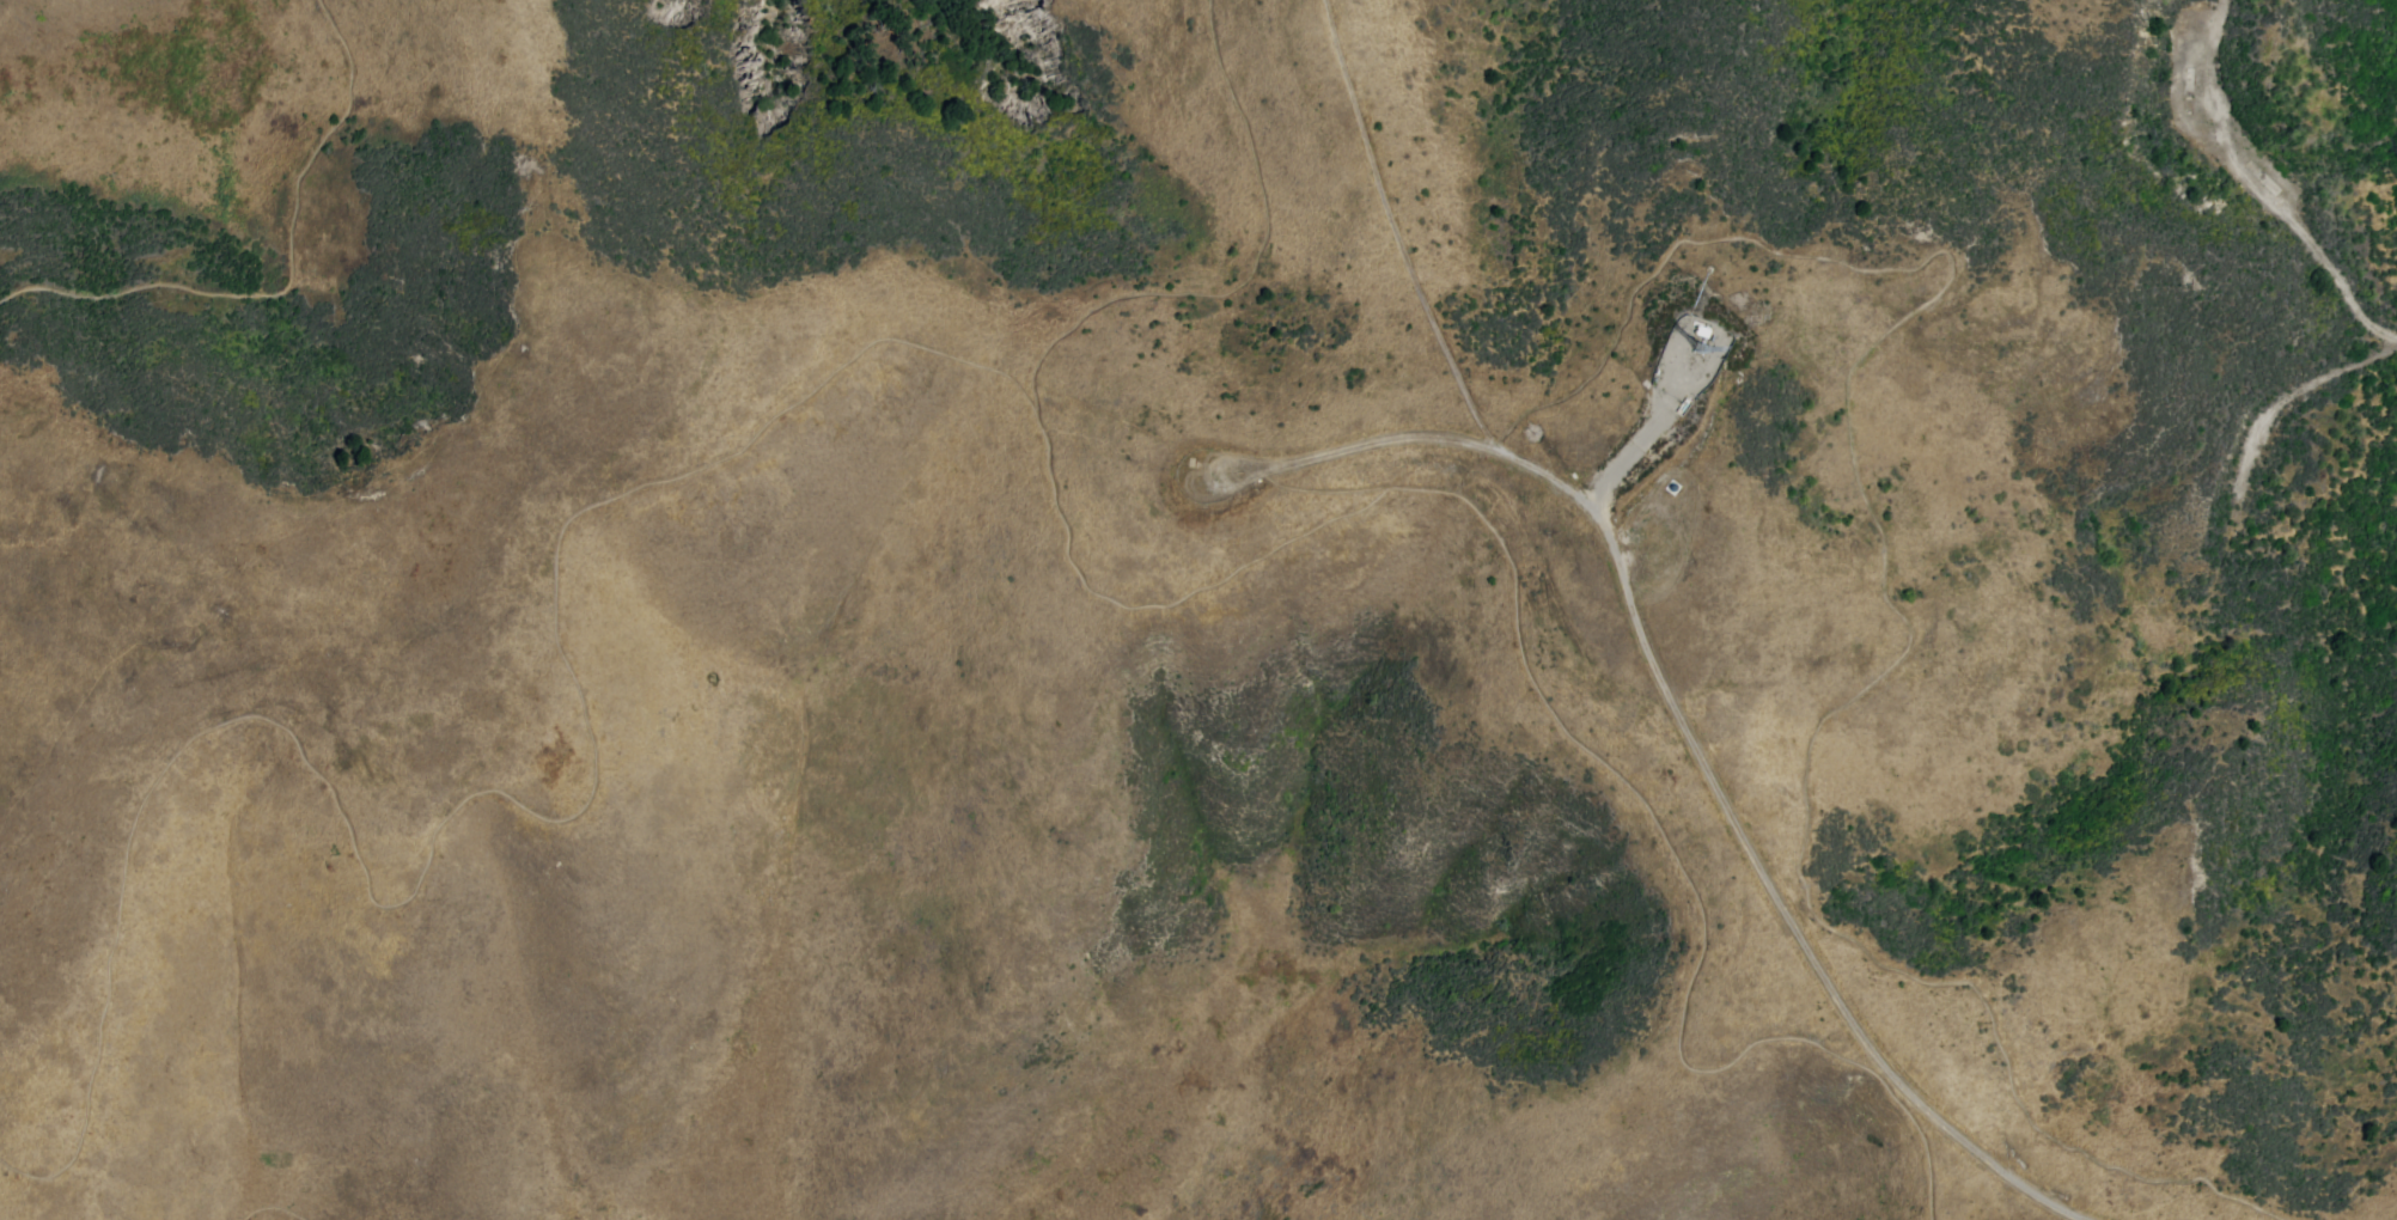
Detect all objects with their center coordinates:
road: (2262, 190)
road: (2305, 386)

